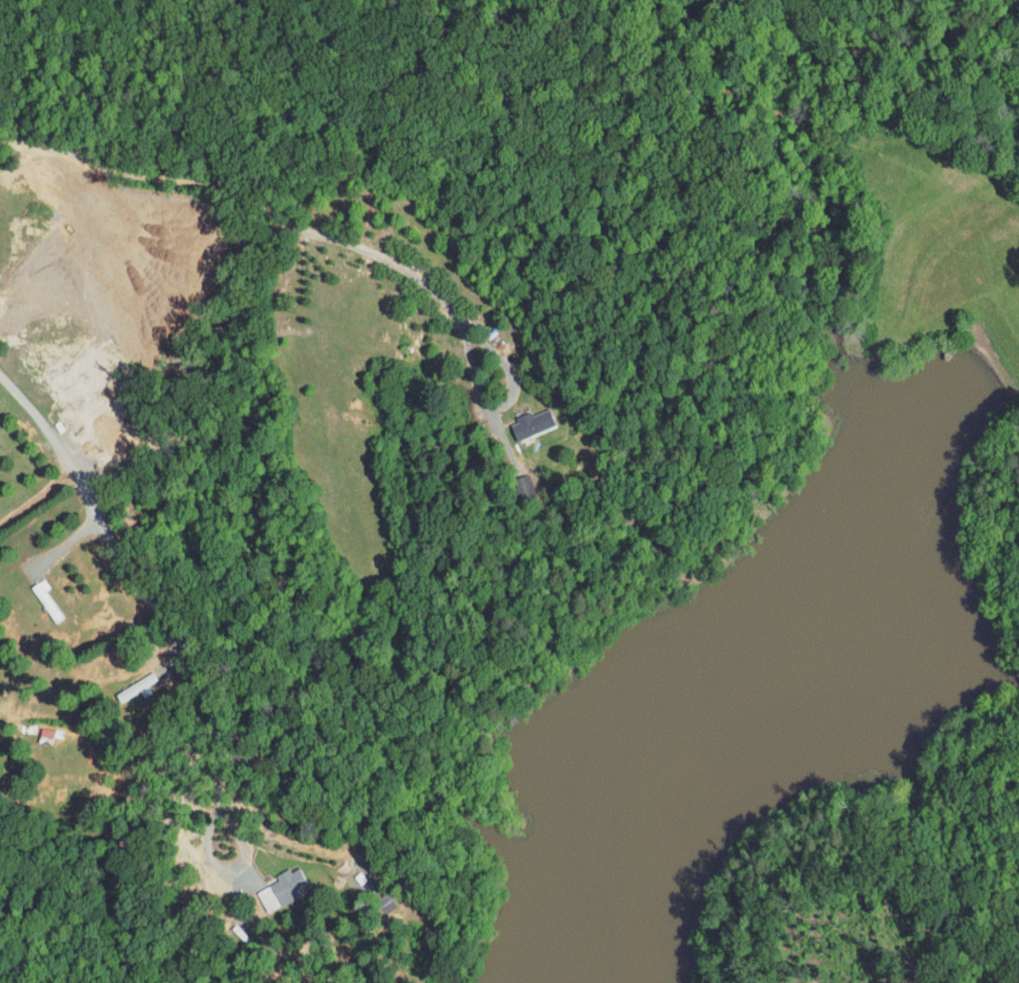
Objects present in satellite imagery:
road: (249, 197)
road: (503, 404)
building: (519, 419)
building: (513, 483)
road: (77, 552)
road: (132, 576)
building: (125, 682)
building: (37, 728)
building: (271, 883)

